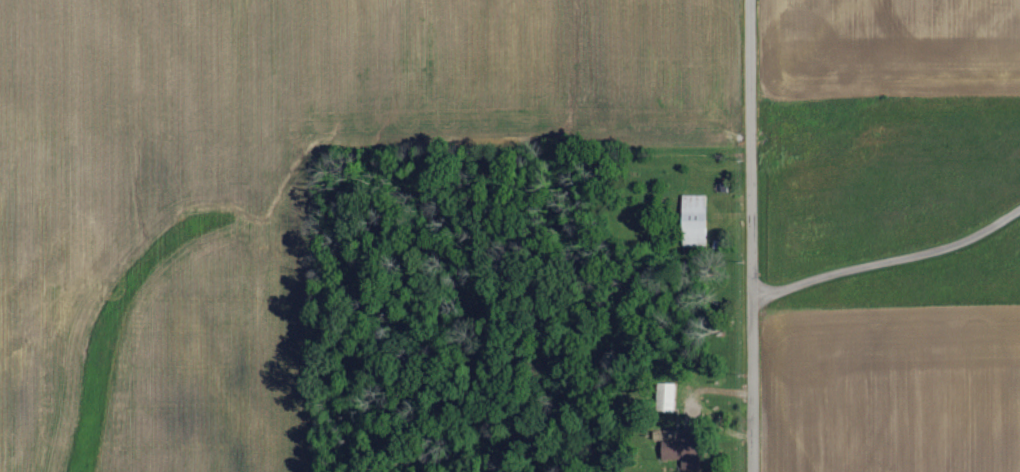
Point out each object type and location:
building: (695, 219)
road: (750, 236)
building: (666, 398)
building: (680, 453)

